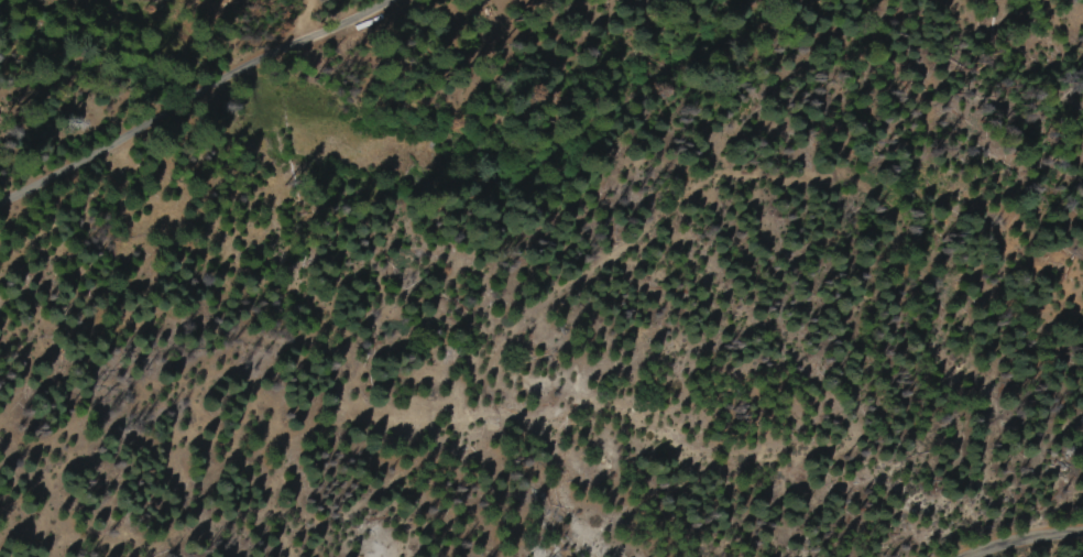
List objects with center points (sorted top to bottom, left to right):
road: (176, 105)
road: (1027, 546)

